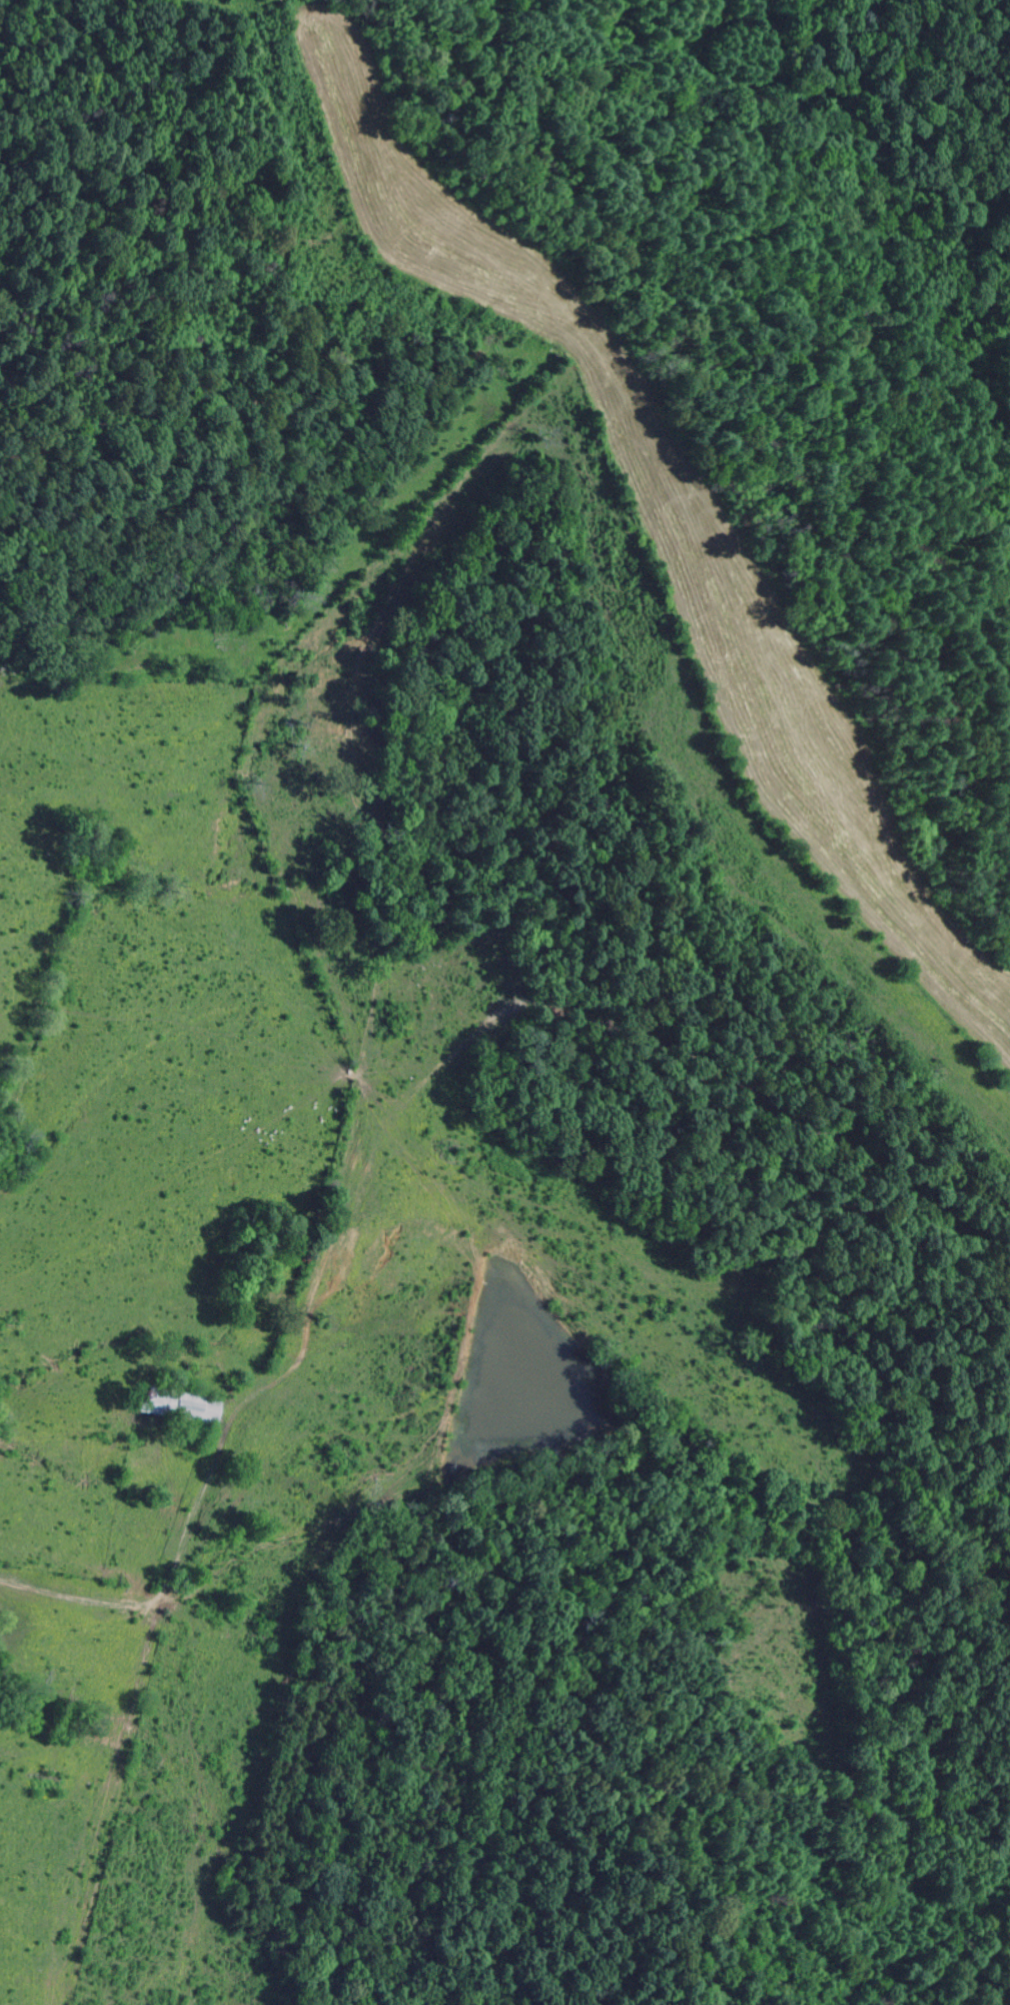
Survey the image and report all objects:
building: (191, 1406)
road: (183, 1546)

